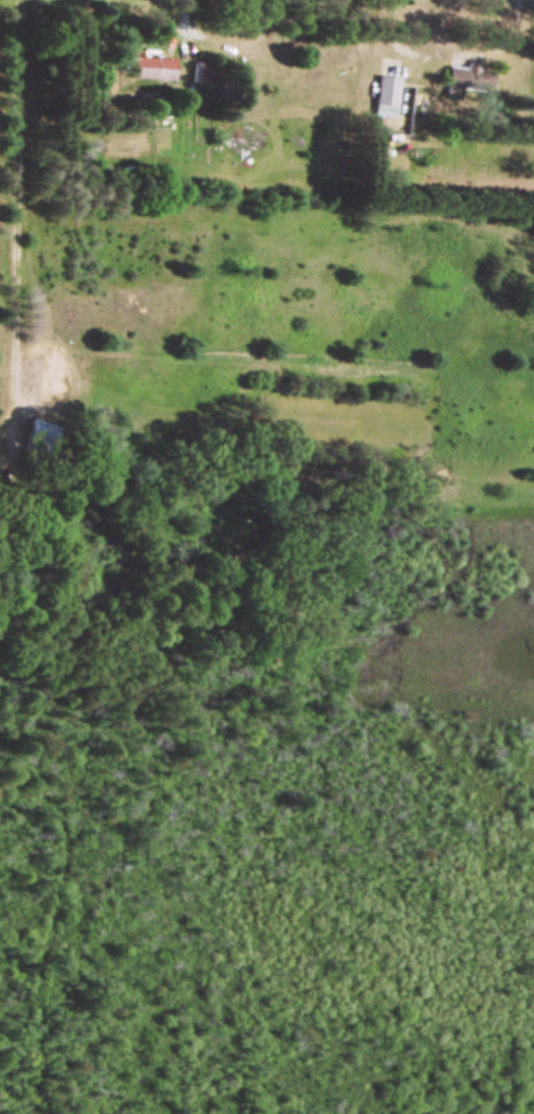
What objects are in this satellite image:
building: (147, 66)
building: (473, 77)
building: (386, 95)
building: (38, 433)

